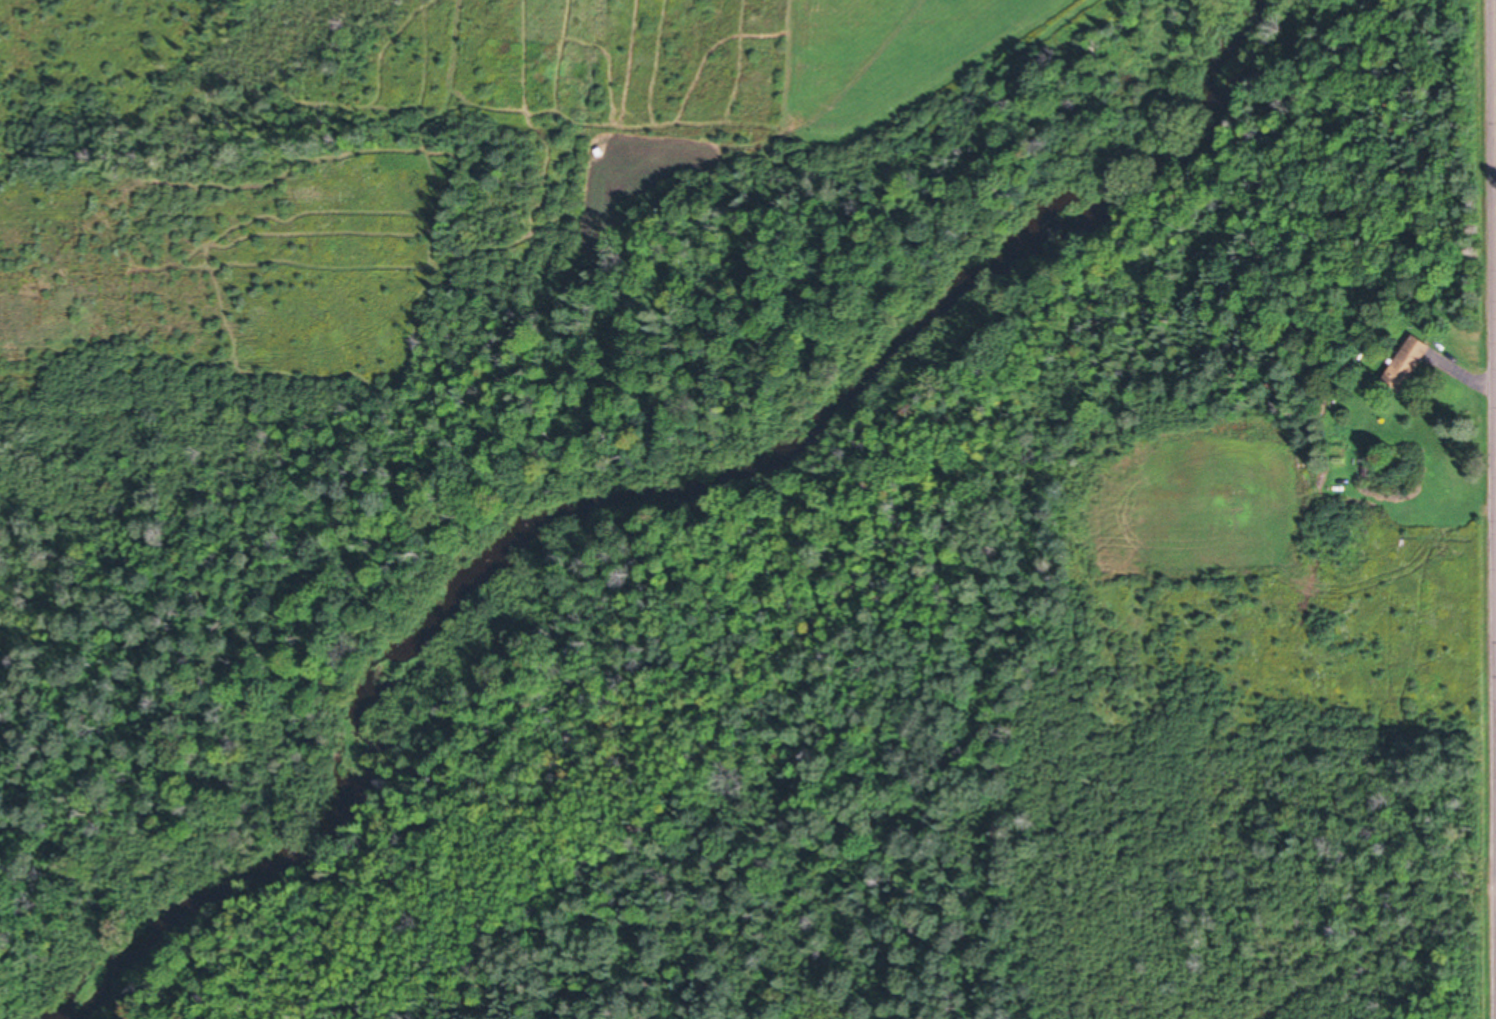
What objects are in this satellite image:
building: (1411, 364)

